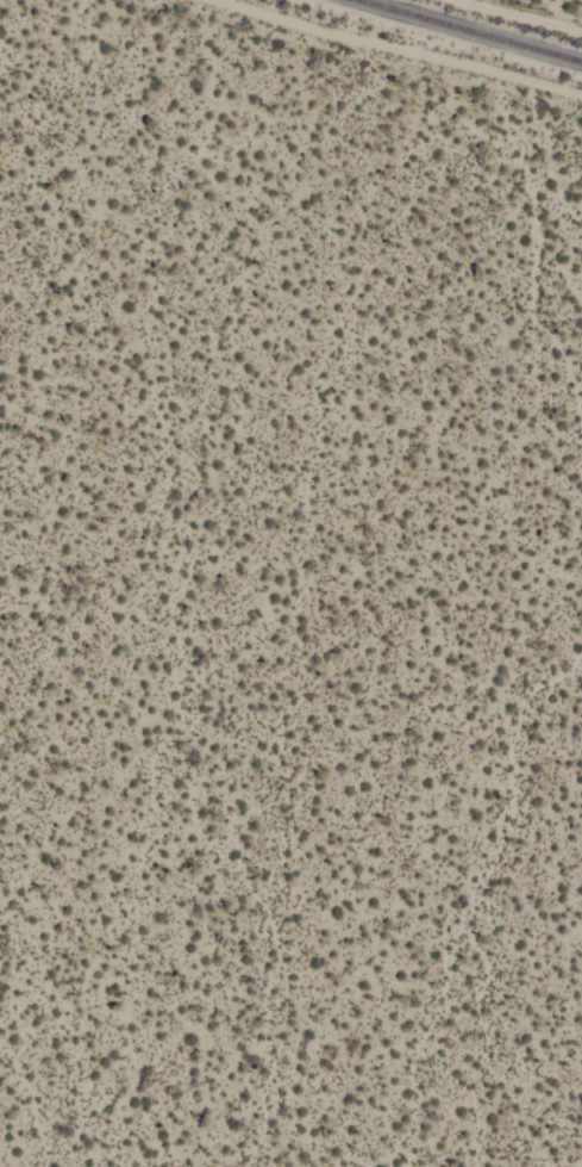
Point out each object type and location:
railway: (465, 31)

